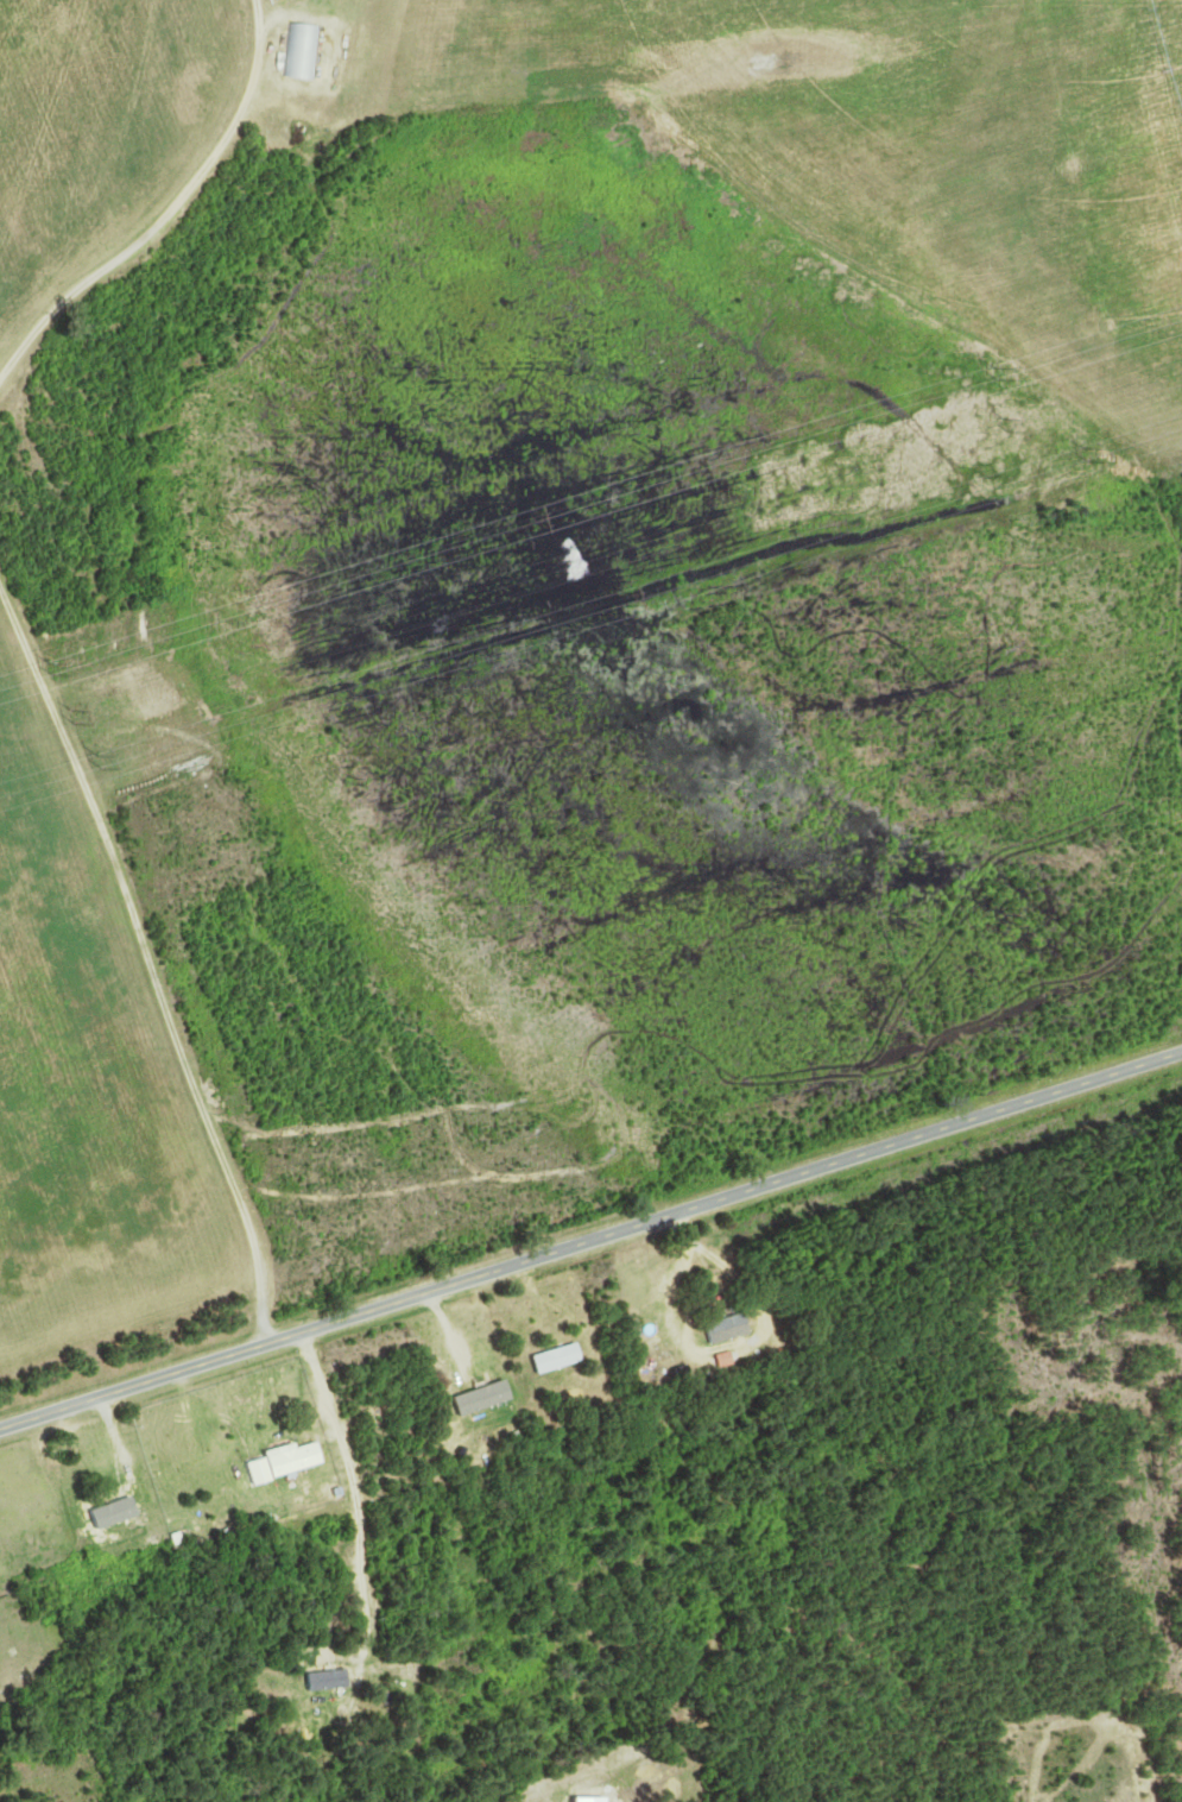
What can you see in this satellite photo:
building: (298, 52)
road: (169, 212)
power tower: (994, 372)
power tower: (1004, 427)
power tower: (1083, 453)
power tower: (533, 516)
power tower: (552, 569)
power tower: (624, 598)
power tower: (55, 667)
power tower: (72, 717)
power tower: (100, 761)
road: (148, 959)
road: (590, 1240)
building: (719, 1329)
building: (472, 1400)
building: (287, 1461)
building: (113, 1513)
building: (321, 1681)

